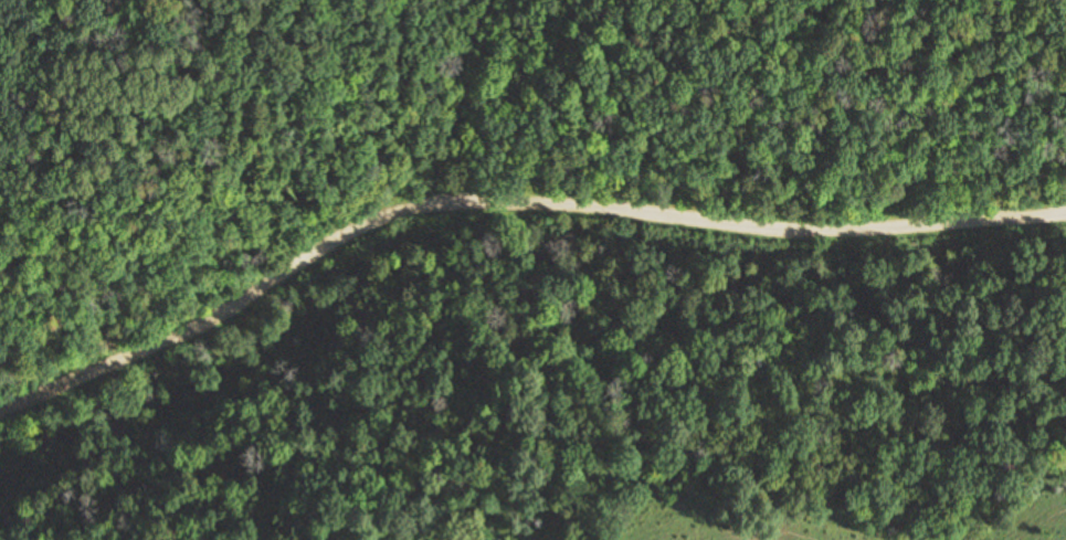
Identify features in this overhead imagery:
road: (509, 201)

